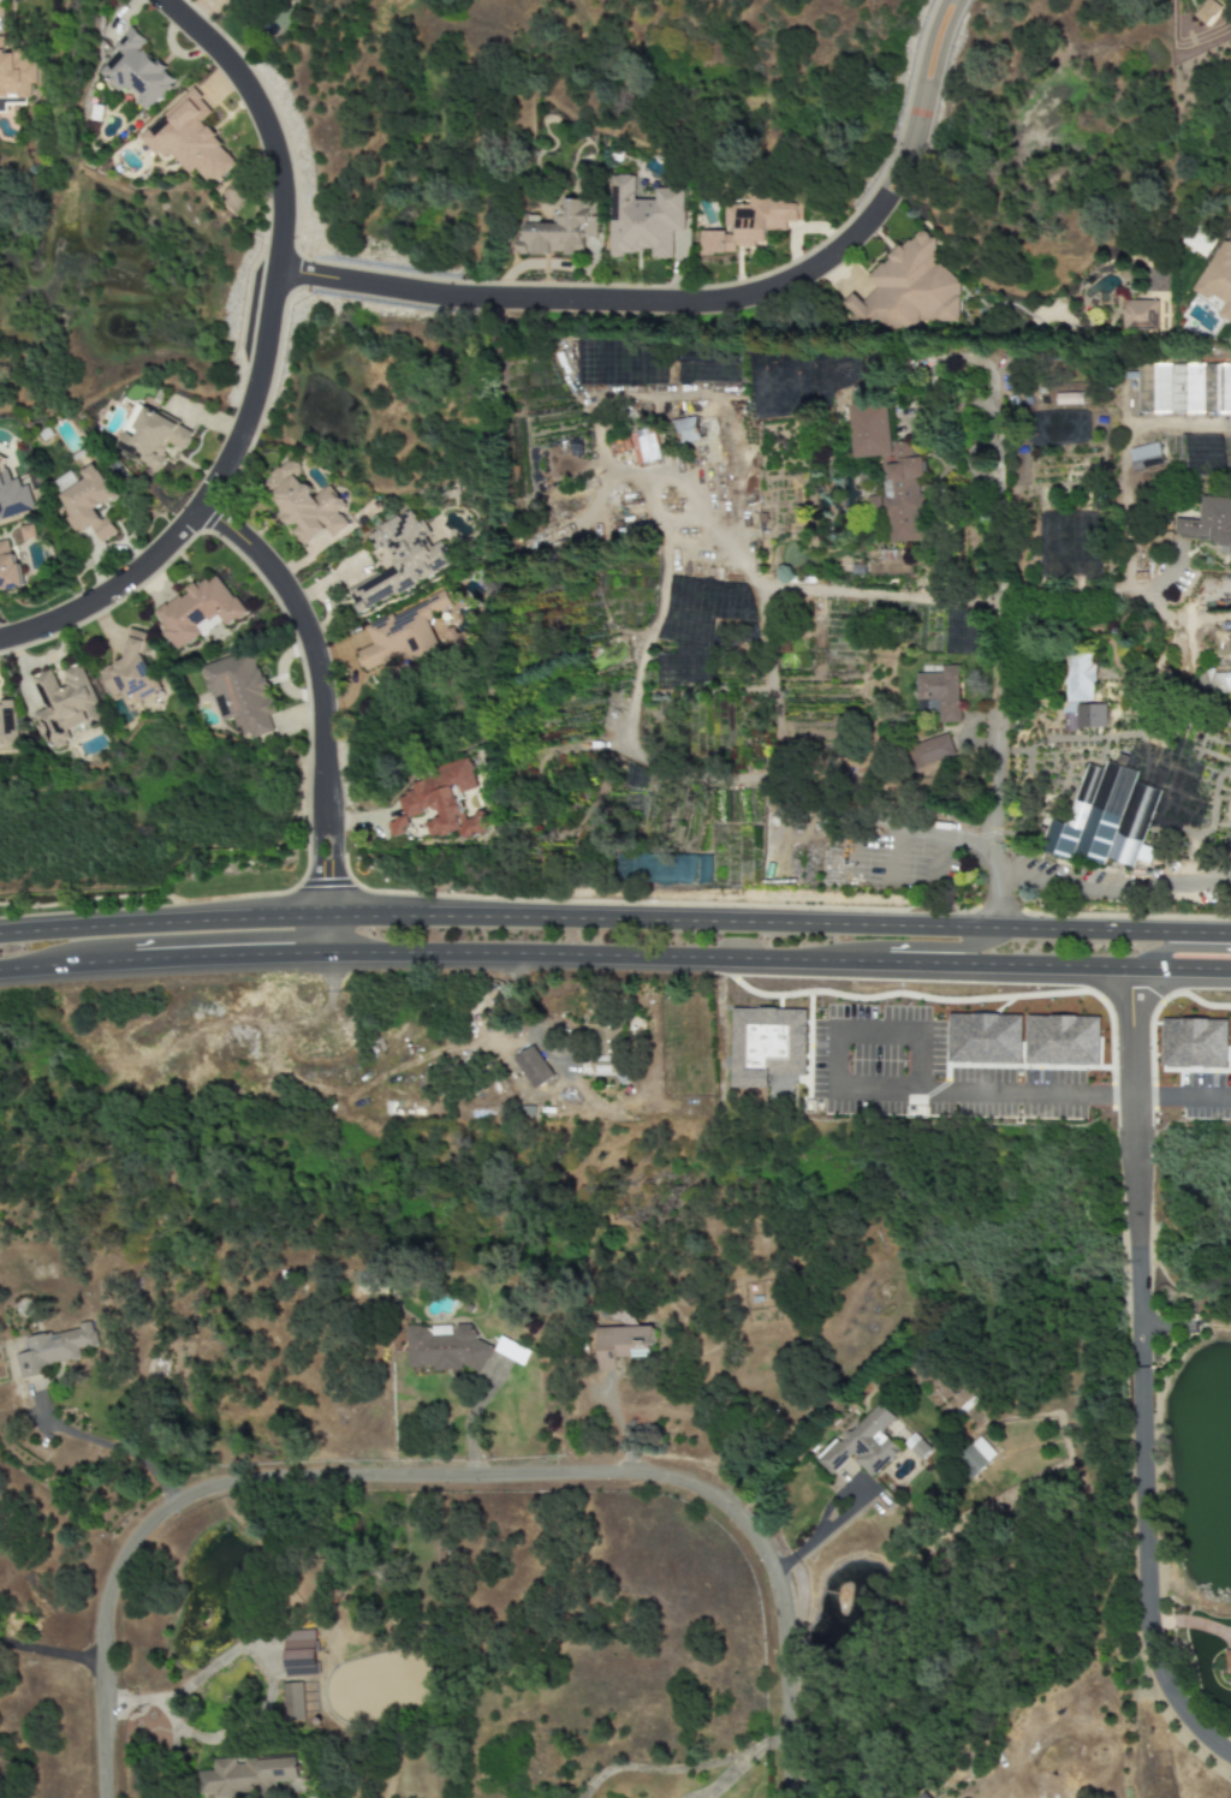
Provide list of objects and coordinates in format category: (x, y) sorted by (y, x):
building: (1207, 11)
building: (136, 70)
building: (14, 76)
building: (189, 138)
building: (644, 220)
building: (750, 224)
building: (560, 230)
building: (1218, 280)
building: (908, 288)
road: (701, 302)
building: (1140, 315)
road: (258, 361)
building: (1184, 388)
building: (1069, 398)
building: (685, 429)
building: (151, 437)
building: (644, 447)
building: (1144, 457)
road: (1123, 460)
building: (891, 472)
road: (1005, 488)
building: (12, 496)
building: (88, 504)
building: (304, 505)
building: (1208, 522)
road: (661, 552)
building: (400, 559)
building: (7, 567)
road: (1166, 572)
road: (887, 596)
road: (1075, 599)
building: (196, 609)
road: (1164, 613)
building: (403, 632)
road: (308, 637)
building: (131, 673)
building: (1078, 677)
building: (1214, 681)
building: (238, 692)
building: (938, 695)
building: (64, 703)
building: (1083, 716)
building: (7, 726)
building: (930, 751)
road: (1001, 768)
building: (441, 802)
building: (1105, 818)
road: (888, 824)
road: (897, 855)
road: (313, 859)
road: (334, 861)
road: (1114, 891)
road: (380, 912)
road: (323, 913)
road: (155, 918)
road: (712, 921)
road: (1116, 931)
road: (317, 939)
road: (329, 939)
road: (940, 948)
road: (1173, 949)
road: (605, 968)
road: (161, 972)
road: (1059, 976)
building: (601, 1047)
road: (924, 1048)
road: (551, 1049)
building: (533, 1066)
road: (1181, 1101)
road: (1132, 1171)
building: (624, 1345)
building: (445, 1348)
building: (53, 1350)
building: (863, 1443)
building: (916, 1447)
road: (114, 1448)
building: (975, 1457)
road: (442, 1476)
road: (842, 1518)
road: (1143, 1576)
building: (299, 1653)
road: (49, 1654)
building: (1227, 1661)
building: (292, 1702)
building: (248, 1776)
building: (922, 1797)

